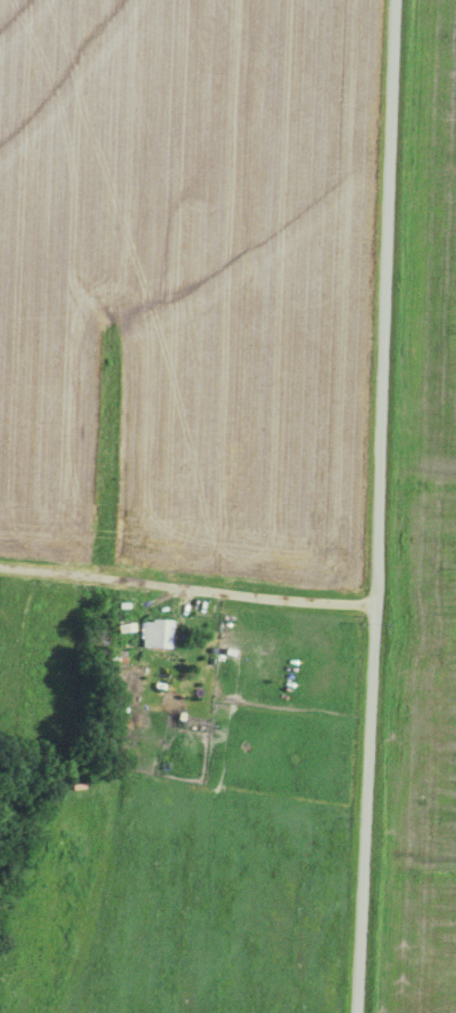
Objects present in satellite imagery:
road: (381, 506)
road: (188, 584)
building: (156, 631)

